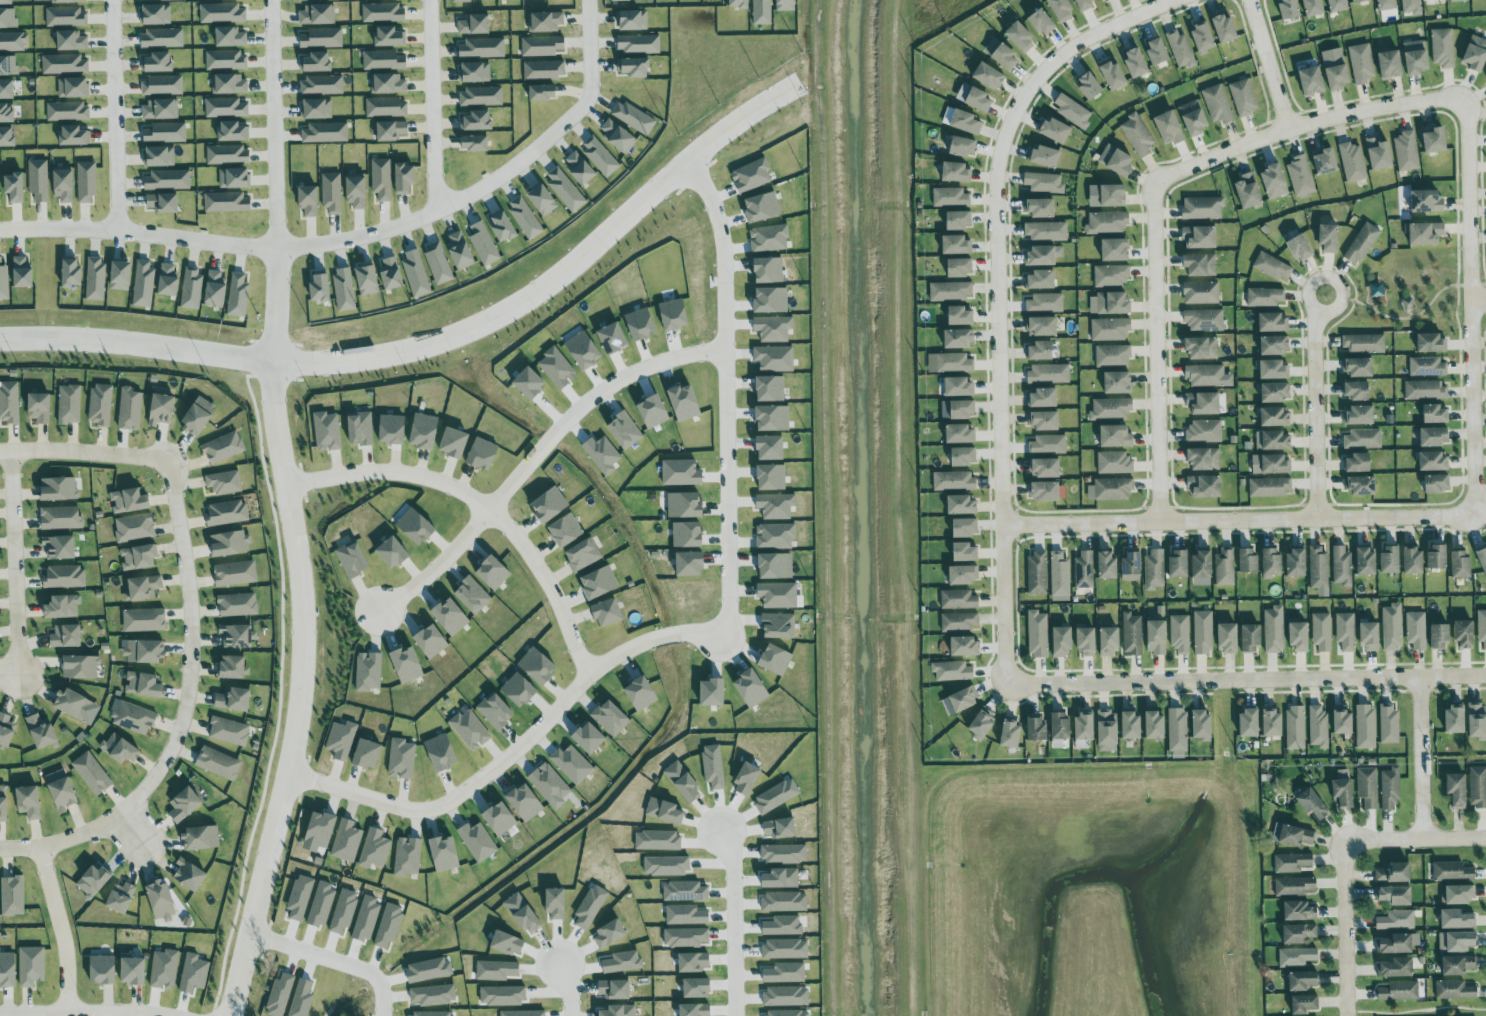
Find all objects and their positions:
building: (156, 0)
building: (312, 0)
building: (509, 0)
building: (556, 0)
building: (620, 0)
building: (67, 1)
building: (461, 1)
building: (1362, 1)
building: (1459, 1)
building: (6, 2)
building: (786, 5)
building: (1385, 5)
building: (1339, 6)
building: (1410, 7)
building: (1315, 8)
building: (1063, 10)
building: (383, 12)
building: (762, 12)
building: (222, 13)
building: (156, 15)
building: (318, 15)
building: (66, 17)
building: (8, 19)
building: (633, 21)
building: (546, 22)
building: (1043, 23)
building: (475, 25)
building: (1226, 29)
building: (231, 37)
building: (390, 37)
building: (1021, 37)
building: (321, 38)
building: (1204, 38)
building: (162, 39)
building: (13, 41)
building: (71, 41)
building: (639, 44)
building: (543, 46)
building: (1443, 47)
building: (482, 48)
building: (1181, 50)
building: (1159, 52)
building: (1476, 52)
building: (1418, 56)
building: (1006, 57)
road: (1055, 59)
building: (383, 60)
building: (225, 61)
building: (1137, 62)
building: (158, 63)
building: (316, 63)
building: (1363, 63)
building: (1391, 63)
building: (65, 64)
road: (1268, 64)
building: (8, 66)
building: (634, 68)
building: (544, 70)
building: (1338, 71)
building: (475, 73)
building: (1115, 74)
building: (990, 75)
building: (1313, 80)
building: (229, 84)
building: (389, 84)
building: (322, 85)
building: (1091, 85)
building: (162, 86)
building: (73, 88)
building: (7, 90)
building: (543, 93)
building: (481, 96)
building: (976, 97)
building: (1244, 97)
road: (432, 104)
building: (1218, 104)
building: (225, 108)
building: (386, 108)
building: (160, 110)
building: (317, 110)
building: (1072, 110)
building: (68, 112)
building: (7, 113)
road: (115, 115)
building: (1194, 117)
building: (633, 118)
building: (477, 121)
building: (968, 121)
road: (1308, 123)
road: (274, 124)
building: (1169, 127)
building: (1057, 129)
building: (391, 131)
building: (233, 132)
building: (165, 133)
building: (325, 133)
building: (1138, 134)
building: (75, 136)
building: (618, 136)
building: (7, 138)
building: (1436, 139)
building: (475, 144)
building: (964, 146)
building: (1407, 151)
building: (1381, 153)
building: (228, 155)
building: (1047, 156)
building: (159, 157)
building: (600, 157)
building: (1117, 160)
building: (1328, 161)
building: (1353, 162)
building: (580, 168)
building: (957, 171)
building: (1301, 175)
building: (405, 178)
building: (234, 179)
building: (381, 179)
building: (38, 180)
building: (167, 181)
building: (1275, 181)
building: (87, 183)
building: (1045, 183)
building: (65, 187)
building: (15, 188)
building: (1250, 190)
building: (565, 191)
building: (356, 192)
building: (0, 194)
building: (332, 194)
building: (1108, 195)
building: (951, 197)
building: (1427, 200)
building: (309, 201)
building: (543, 201)
building: (163, 203)
building: (226, 203)
building: (1042, 207)
building: (1203, 208)
building: (525, 218)
road: (419, 219)
building: (960, 219)
building: (1107, 222)
building: (504, 227)
road: (58, 231)
building: (1046, 231)
building: (1427, 233)
building: (1201, 236)
building: (1330, 237)
building: (957, 243)
building: (1363, 243)
building: (483, 244)
building: (1302, 247)
building: (1117, 249)
building: (460, 250)
building: (1044, 254)
building: (438, 263)
building: (1200, 263)
building: (1274, 266)
building: (961, 267)
building: (22, 272)
building: (416, 273)
building: (72, 274)
building: (391, 274)
building: (121, 276)
building: (1111, 276)
building: (96, 279)
building: (1042, 279)
building: (367, 280)
building: (168, 281)
road: (558, 281)
building: (4, 282)
building: (144, 284)
building: (191, 288)
building: (321, 289)
building: (344, 289)
building: (216, 290)
building: (950, 291)
building: (1202, 292)
building: (238, 296)
building: (1266, 297)
road: (1480, 300)
building: (1045, 303)
building: (1114, 303)
road: (1474, 303)
road: (1376, 307)
building: (962, 315)
road: (1402, 318)
building: (1205, 320)
building: (1274, 321)
building: (1042, 326)
building: (774, 328)
building: (1110, 329)
building: (960, 338)
building: (1431, 342)
building: (1363, 343)
building: (1275, 344)
road: (135, 347)
building: (1202, 347)
building: (1042, 350)
road: (1157, 352)
building: (1113, 355)
building: (775, 358)
building: (954, 363)
building: (1360, 366)
building: (1428, 367)
building: (1272, 369)
building: (1049, 373)
building: (1209, 376)
building: (1118, 382)
building: (959, 386)
building: (771, 388)
building: (1357, 390)
building: (1425, 390)
building: (1275, 392)
building: (1044, 397)
road: (727, 399)
building: (9, 402)
building: (683, 402)
building: (1204, 403)
building: (69, 404)
road: (1319, 404)
building: (100, 405)
building: (40, 407)
road: (590, 407)
building: (130, 408)
building: (161, 409)
building: (962, 409)
building: (1111, 409)
building: (1436, 413)
building: (1359, 415)
building: (199, 416)
building: (1275, 416)
building: (773, 417)
building: (1045, 420)
building: (360, 428)
building: (393, 429)
building: (424, 430)
road: (1004, 430)
building: (327, 431)
building: (1205, 431)
building: (961, 433)
building: (1116, 436)
building: (1434, 436)
building: (1363, 439)
building: (1277, 440)
building: (454, 442)
building: (1048, 445)
building: (771, 446)
building: (223, 447)
building: (483, 453)
building: (964, 456)
building: (1205, 458)
road: (85, 459)
building: (1434, 460)
building: (1359, 462)
building: (1114, 463)
building: (1271, 463)
building: (1045, 468)
building: (681, 472)
building: (772, 476)
building: (954, 481)
building: (224, 482)
building: (1437, 483)
building: (1361, 485)
building: (1206, 486)
building: (1270, 487)
building: (59, 488)
building: (1111, 489)
building: (1047, 490)
building: (129, 500)
building: (550, 504)
building: (686, 504)
building: (962, 504)
building: (776, 505)
road: (481, 506)
building: (227, 513)
building: (60, 517)
road: (1241, 518)
building: (416, 525)
building: (965, 527)
building: (134, 528)
building: (566, 530)
building: (688, 534)
building: (775, 536)
building: (231, 543)
building: (60, 546)
building: (394, 552)
building: (967, 552)
building: (583, 555)
building: (139, 556)
building: (1438, 557)
building: (1482, 558)
building: (353, 559)
building: (1391, 559)
building: (1248, 560)
building: (1414, 560)
building: (1367, 561)
building: (1272, 562)
building: (1296, 562)
building: (690, 563)
building: (1107, 564)
building: (1179, 564)
building: (773, 565)
building: (1342, 565)
building: (1462, 565)
road: (17, 566)
building: (1133, 567)
building: (1225, 567)
road: (437, 568)
building: (1202, 568)
building: (1318, 568)
building: (1155, 569)
building: (1084, 570)
building: (494, 572)
building: (235, 573)
building: (1036, 573)
building: (1059, 574)
building: (964, 575)
building: (65, 576)
building: (600, 582)
building: (145, 587)
building: (473, 595)
building: (778, 595)
building: (959, 599)
building: (237, 604)
building: (63, 606)
building: (608, 612)
building: (451, 616)
building: (145, 620)
building: (960, 622)
building: (778, 625)
building: (1392, 627)
building: (1482, 628)
building: (1275, 629)
building: (1416, 630)
building: (1346, 631)
building: (1203, 632)
building: (1323, 632)
building: (1180, 633)
building: (1465, 633)
building: (1038, 634)
building: (1132, 634)
road: (301, 635)
building: (1370, 635)
building: (67, 636)
building: (236, 636)
building: (1301, 636)
building: (1440, 636)
building: (1157, 637)
building: (1230, 638)
building: (1252, 638)
building: (1110, 640)
building: (432, 641)
building: (1063, 641)
building: (1088, 641)
building: (966, 646)
building: (144, 651)
building: (776, 659)
building: (407, 664)
building: (539, 665)
building: (81, 666)
building: (232, 666)
building: (368, 671)
building: (952, 671)
road: (1247, 681)
building: (144, 684)
building: (751, 688)
building: (520, 689)
building: (712, 692)
building: (642, 693)
building: (234, 699)
building: (962, 700)
building: (74, 704)
building: (496, 711)
road: (182, 716)
building: (133, 717)
building: (611, 718)
building: (1456, 719)
building: (1477, 721)
building: (983, 722)
building: (1344, 722)
building: (1204, 723)
building: (1251, 723)
building: (1273, 723)
building: (1388, 723)
building: (1133, 725)
building: (1157, 725)
building: (1085, 726)
building: (1365, 726)
building: (1319, 727)
building: (1037, 728)
building: (1296, 728)
building: (6, 729)
building: (470, 729)
building: (1108, 730)
building: (1178, 730)
building: (42, 731)
building: (229, 731)
building: (1011, 734)
building: (590, 738)
building: (342, 739)
building: (120, 748)
building: (441, 752)
building: (368, 753)
road: (512, 756)
building: (401, 758)
road: (1422, 759)
building: (219, 763)
building: (572, 764)
building: (92, 773)
building: (549, 783)
building: (1368, 787)
building: (1478, 787)
building: (1390, 789)
building: (1459, 789)
building: (1344, 792)
building: (64, 794)
building: (29, 802)
building: (525, 802)
building: (4, 804)
building: (1314, 804)
building: (185, 805)
building: (500, 818)
building: (321, 829)
road: (132, 830)
building: (1297, 836)
building: (202, 837)
road: (1414, 839)
building: (347, 840)
building: (478, 841)
building: (374, 849)
building: (444, 854)
building: (407, 856)
building: (1292, 863)
building: (1453, 872)
building: (1395, 873)
building: (190, 875)
building: (94, 881)
building: (1294, 886)
building: (1395, 895)
building: (1459, 895)
building: (12, 896)
building: (121, 897)
building: (161, 900)
building: (1300, 911)
building: (1458, 919)
building: (1397, 920)
road: (735, 924)
road: (61, 927)
road: (1345, 929)
building: (1299, 933)
building: (1458, 941)
building: (1395, 945)
building: (1296, 957)
road: (329, 963)
building: (1459, 965)
building: (31, 966)
building: (1396, 968)
building: (8, 969)
building: (164, 969)
building: (103, 970)
building: (133, 971)
building: (1303, 981)
building: (189, 989)
building: (1455, 990)
building: (1400, 991)
road: (569, 992)
building: (1305, 1004)
road: (85, 1011)

